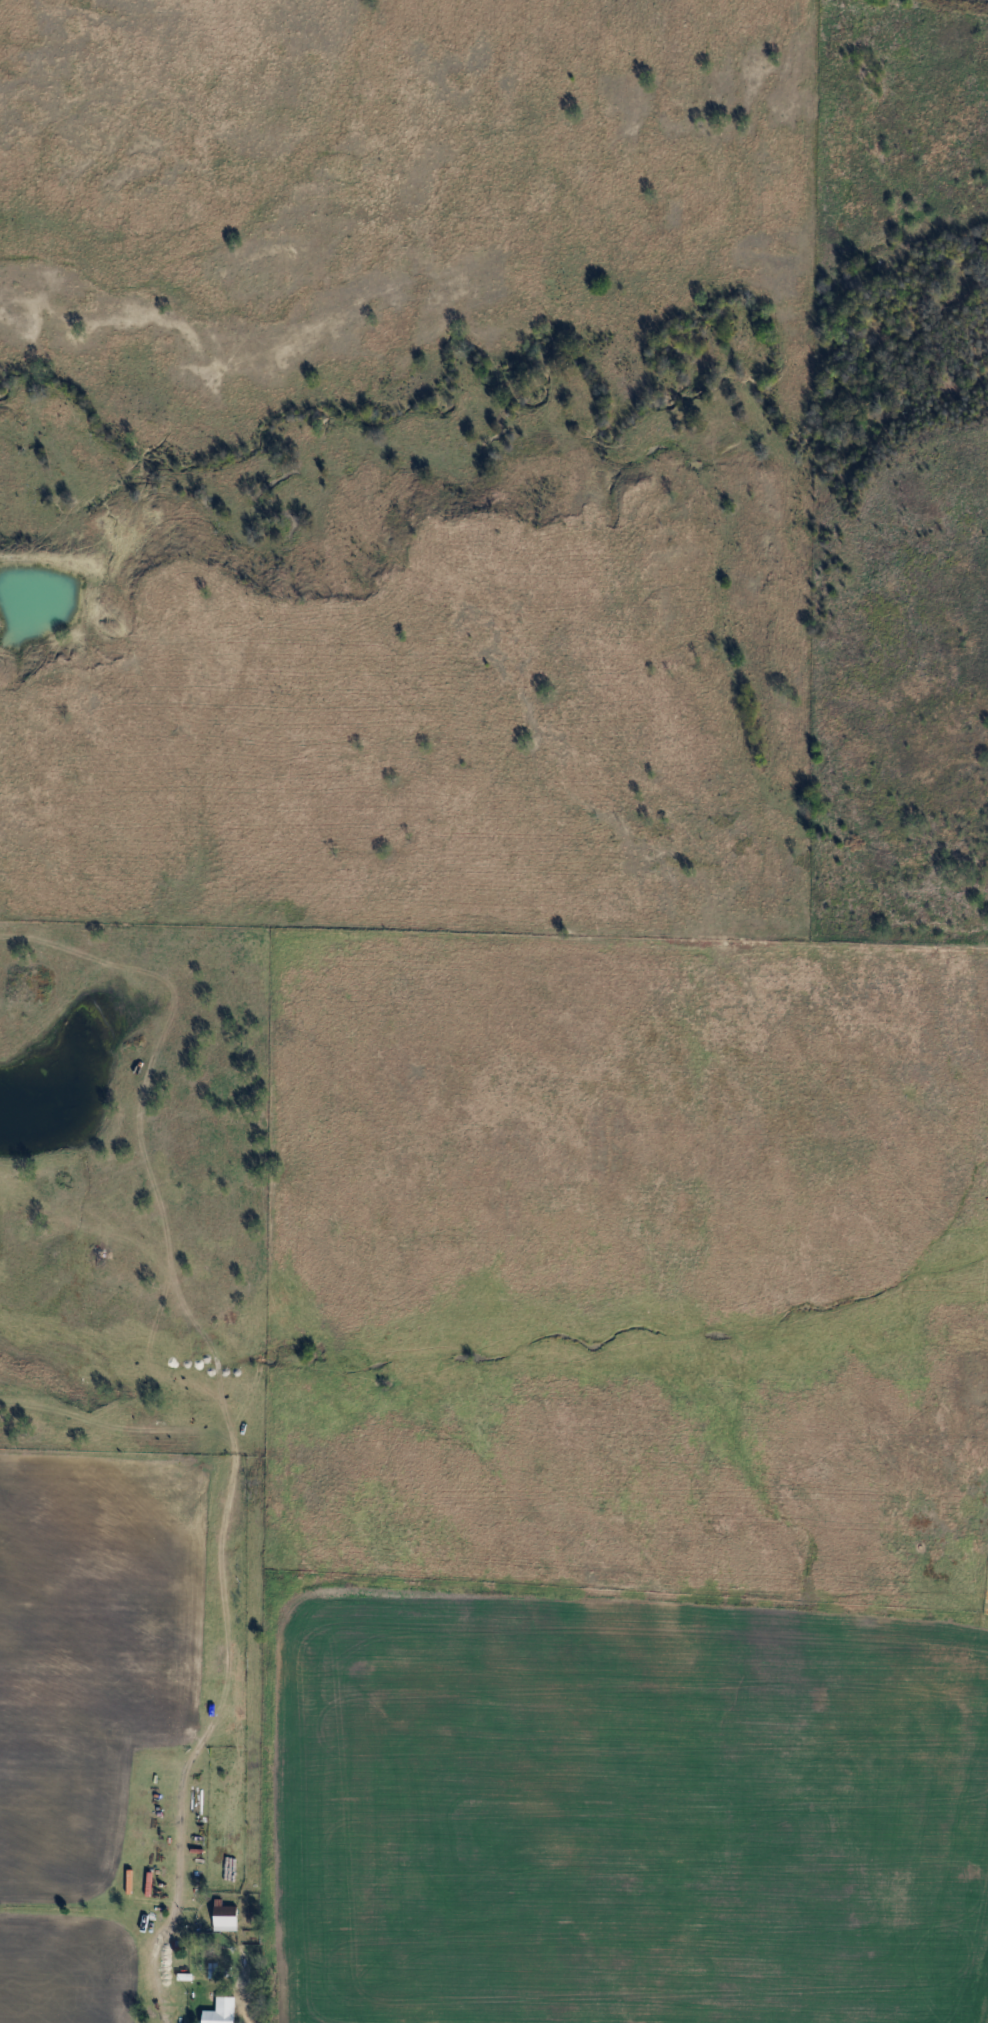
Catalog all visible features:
building: (226, 1917)
building: (221, 2011)

